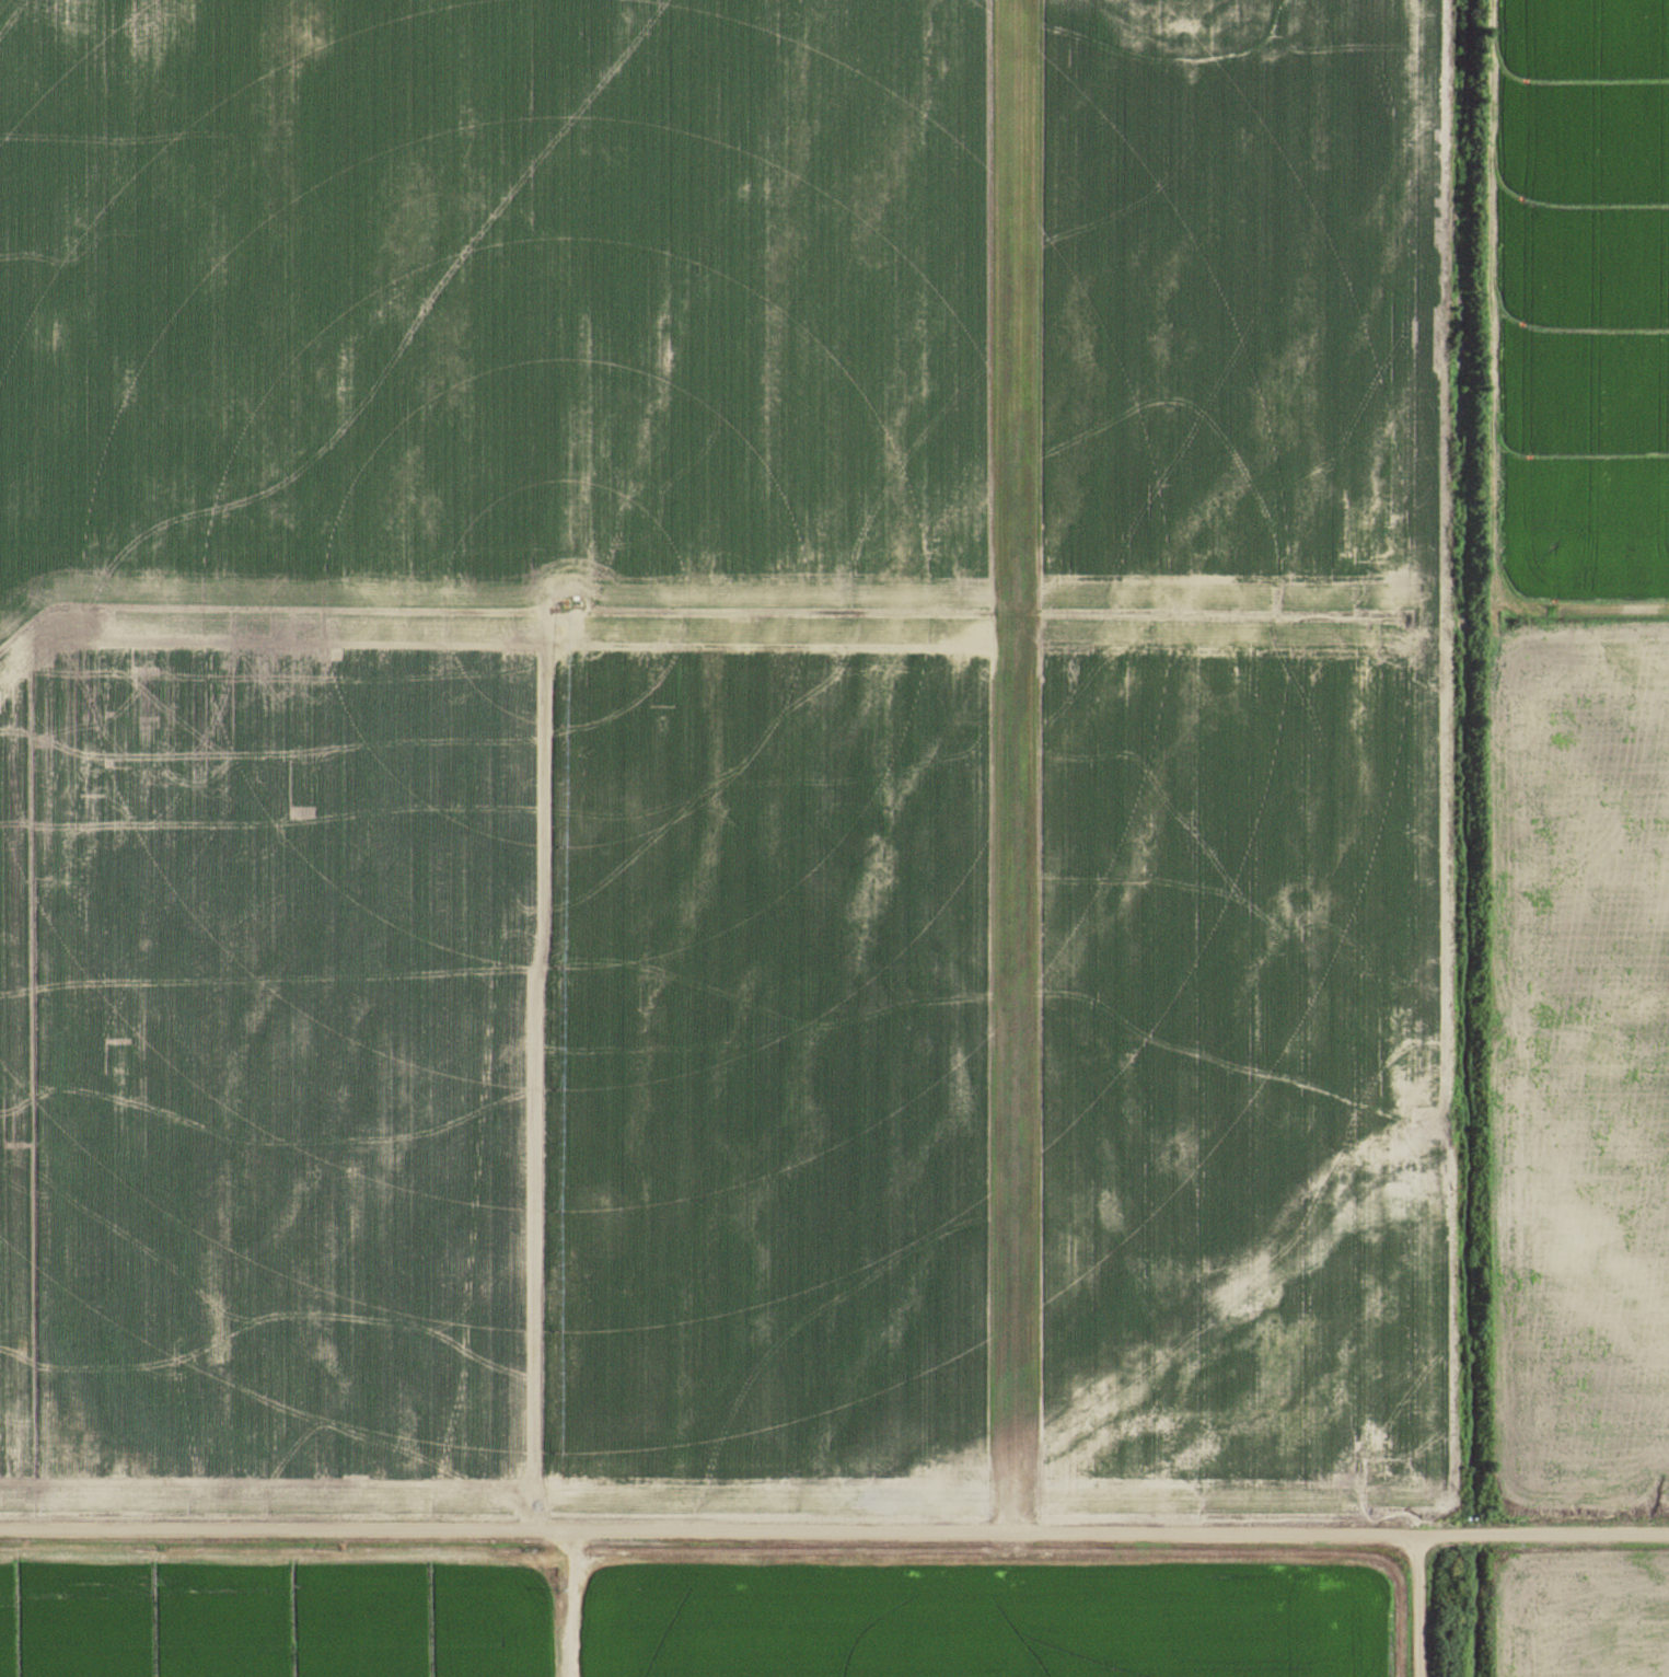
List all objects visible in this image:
airport runway: (1010, 743)
road: (532, 1055)
road: (834, 1529)
road: (566, 1603)
road: (1418, 1605)

